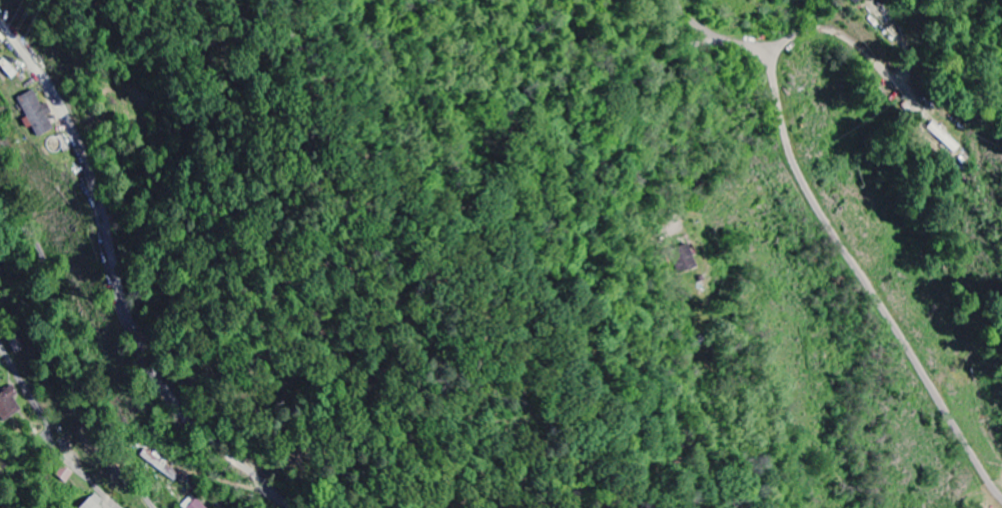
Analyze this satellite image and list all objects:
building: (855, 2)
road: (844, 39)
building: (34, 115)
road: (833, 234)
building: (683, 260)
road: (140, 350)
road: (79, 357)
building: (8, 405)
building: (159, 465)
road: (95, 485)
building: (196, 504)

